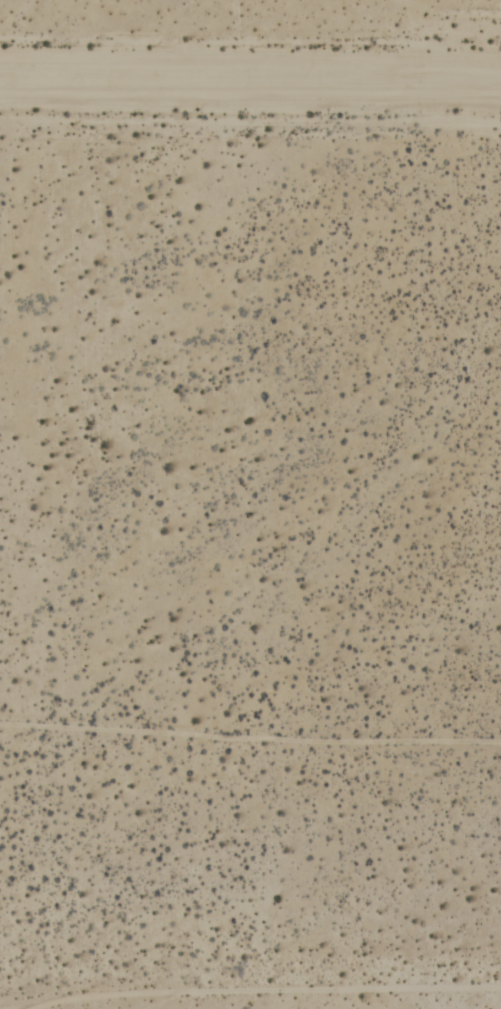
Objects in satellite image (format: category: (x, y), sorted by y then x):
airport runway: (250, 78)

